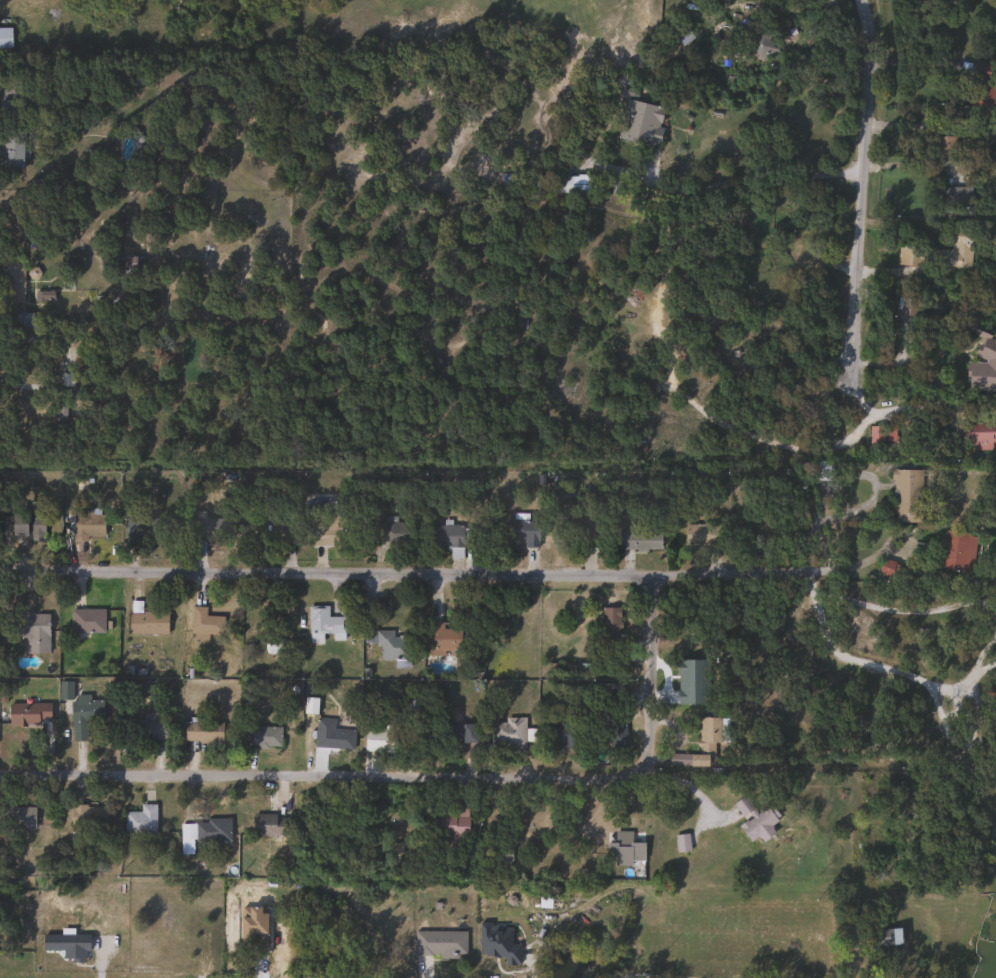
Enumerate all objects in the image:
building: (5, 39)
building: (762, 45)
road: (915, 61)
building: (130, 78)
building: (982, 91)
building: (641, 123)
building: (944, 135)
road: (913, 162)
road: (740, 174)
building: (562, 184)
road: (857, 196)
building: (941, 252)
building: (128, 267)
building: (11, 283)
building: (28, 320)
building: (982, 369)
building: (977, 435)
building: (876, 436)
building: (824, 473)
building: (906, 496)
building: (26, 524)
building: (87, 525)
building: (587, 528)
building: (141, 529)
building: (394, 530)
building: (208, 531)
building: (325, 531)
building: (522, 531)
building: (289, 534)
building: (704, 534)
building: (476, 536)
building: (447, 538)
building: (639, 541)
building: (957, 551)
building: (891, 570)
road: (454, 575)
road: (809, 583)
road: (905, 612)
building: (86, 621)
building: (323, 622)
building: (147, 623)
building: (205, 624)
building: (34, 633)
building: (609, 635)
building: (442, 639)
building: (393, 645)
road: (953, 686)
road: (934, 697)
building: (26, 714)
building: (84, 718)
building: (147, 730)
building: (202, 732)
building: (512, 733)
building: (468, 734)
building: (331, 735)
building: (563, 735)
building: (263, 737)
building: (380, 738)
building: (700, 744)
road: (184, 772)
road: (601, 781)
road: (689, 784)
building: (892, 801)
building: (16, 817)
building: (756, 819)
building: (87, 820)
building: (141, 820)
building: (452, 822)
building: (268, 826)
building: (203, 833)
building: (681, 843)
building: (624, 849)
building: (500, 854)
road: (414, 891)
building: (884, 937)
building: (439, 943)

